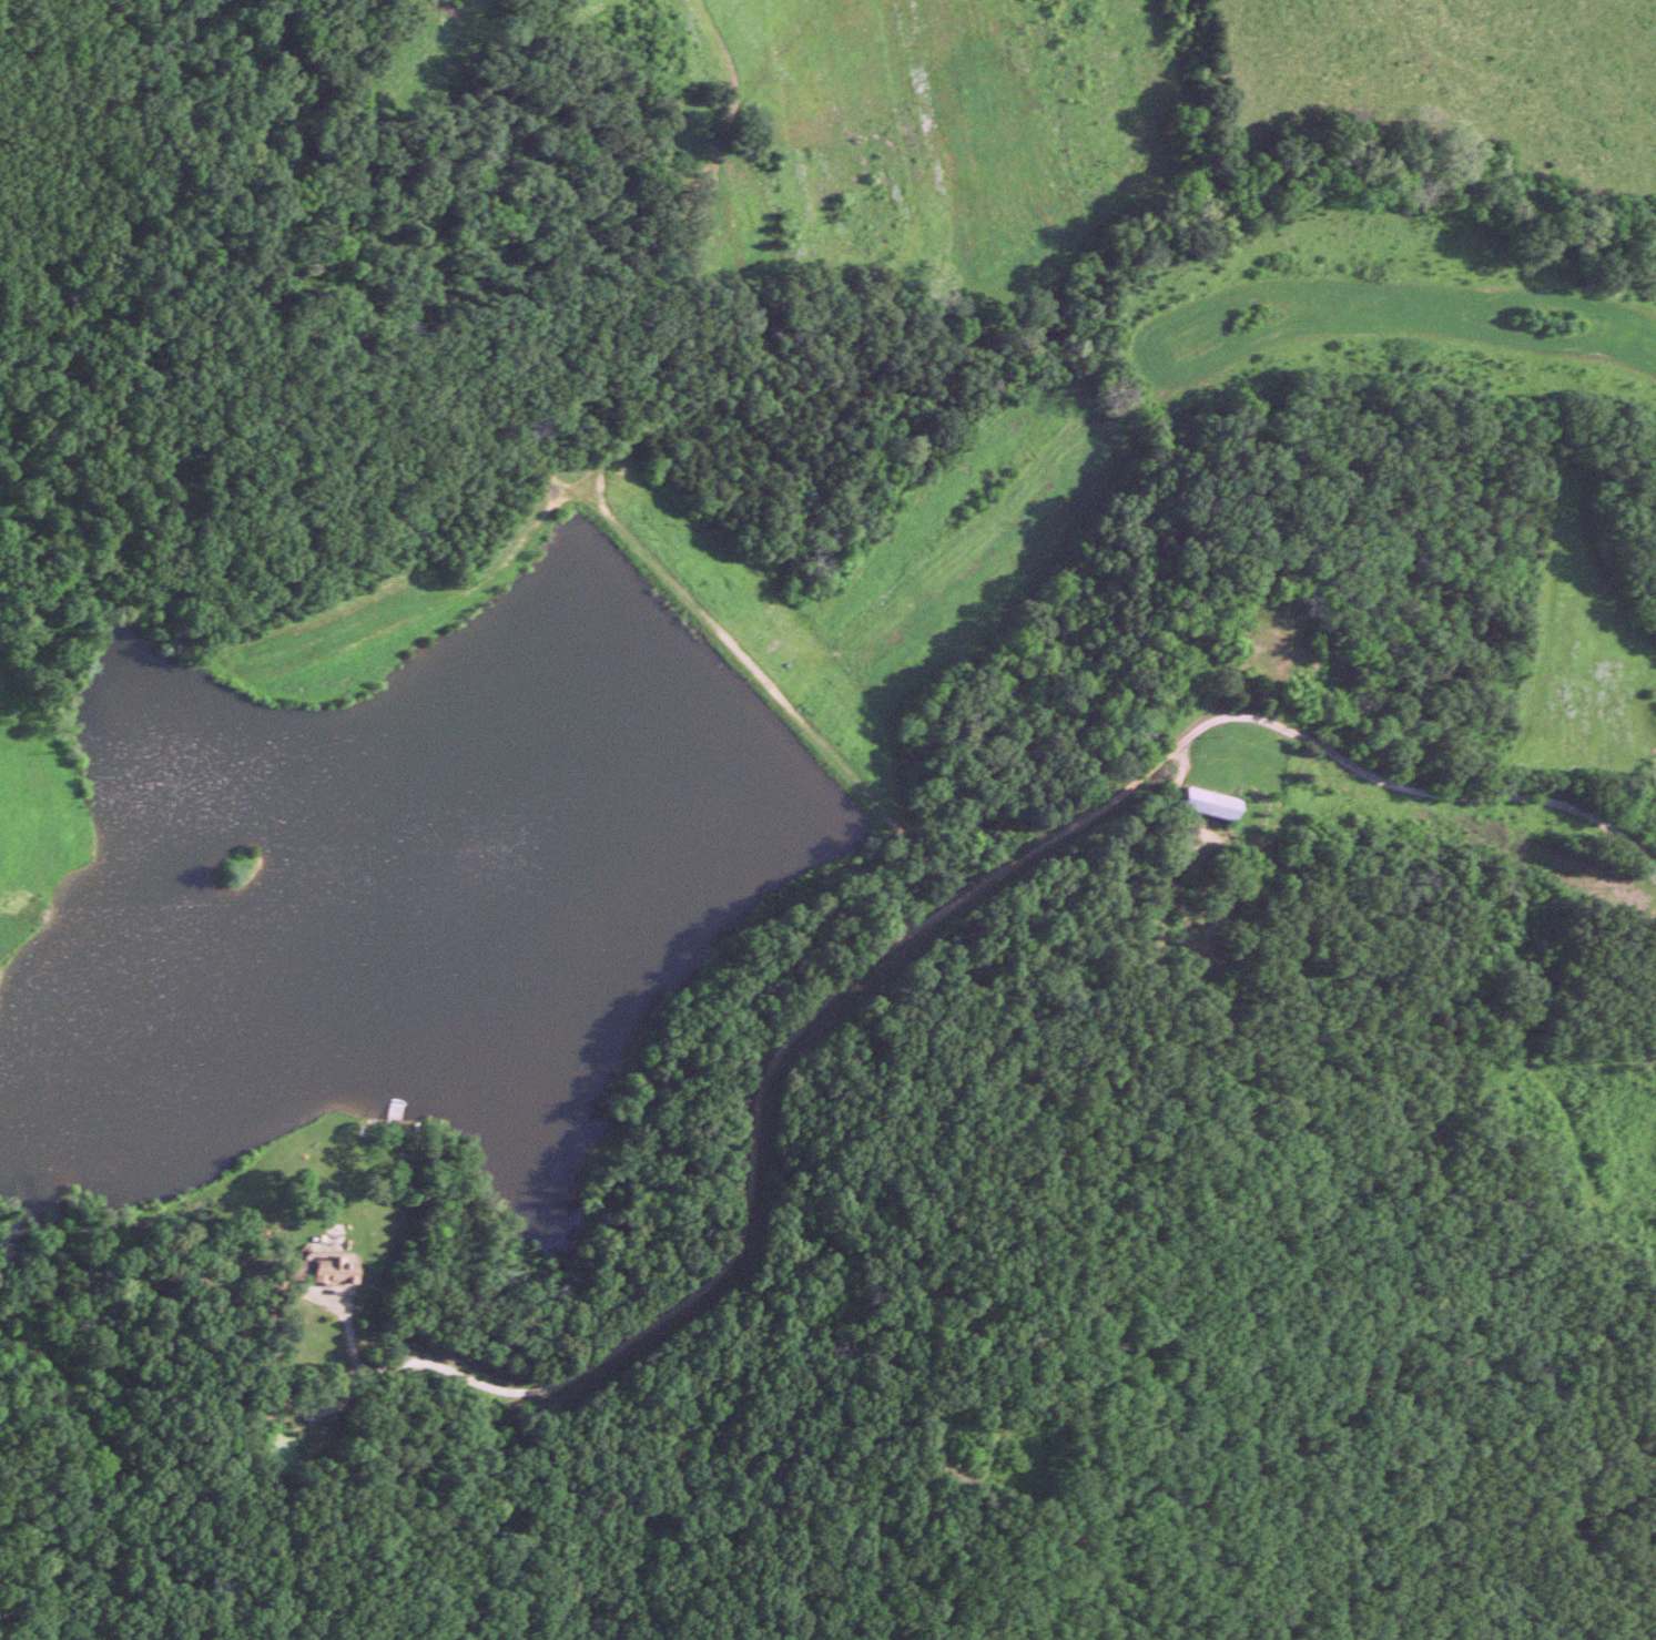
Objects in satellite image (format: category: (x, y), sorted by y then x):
building: (1198, 803)
road: (885, 955)
building: (308, 1271)

